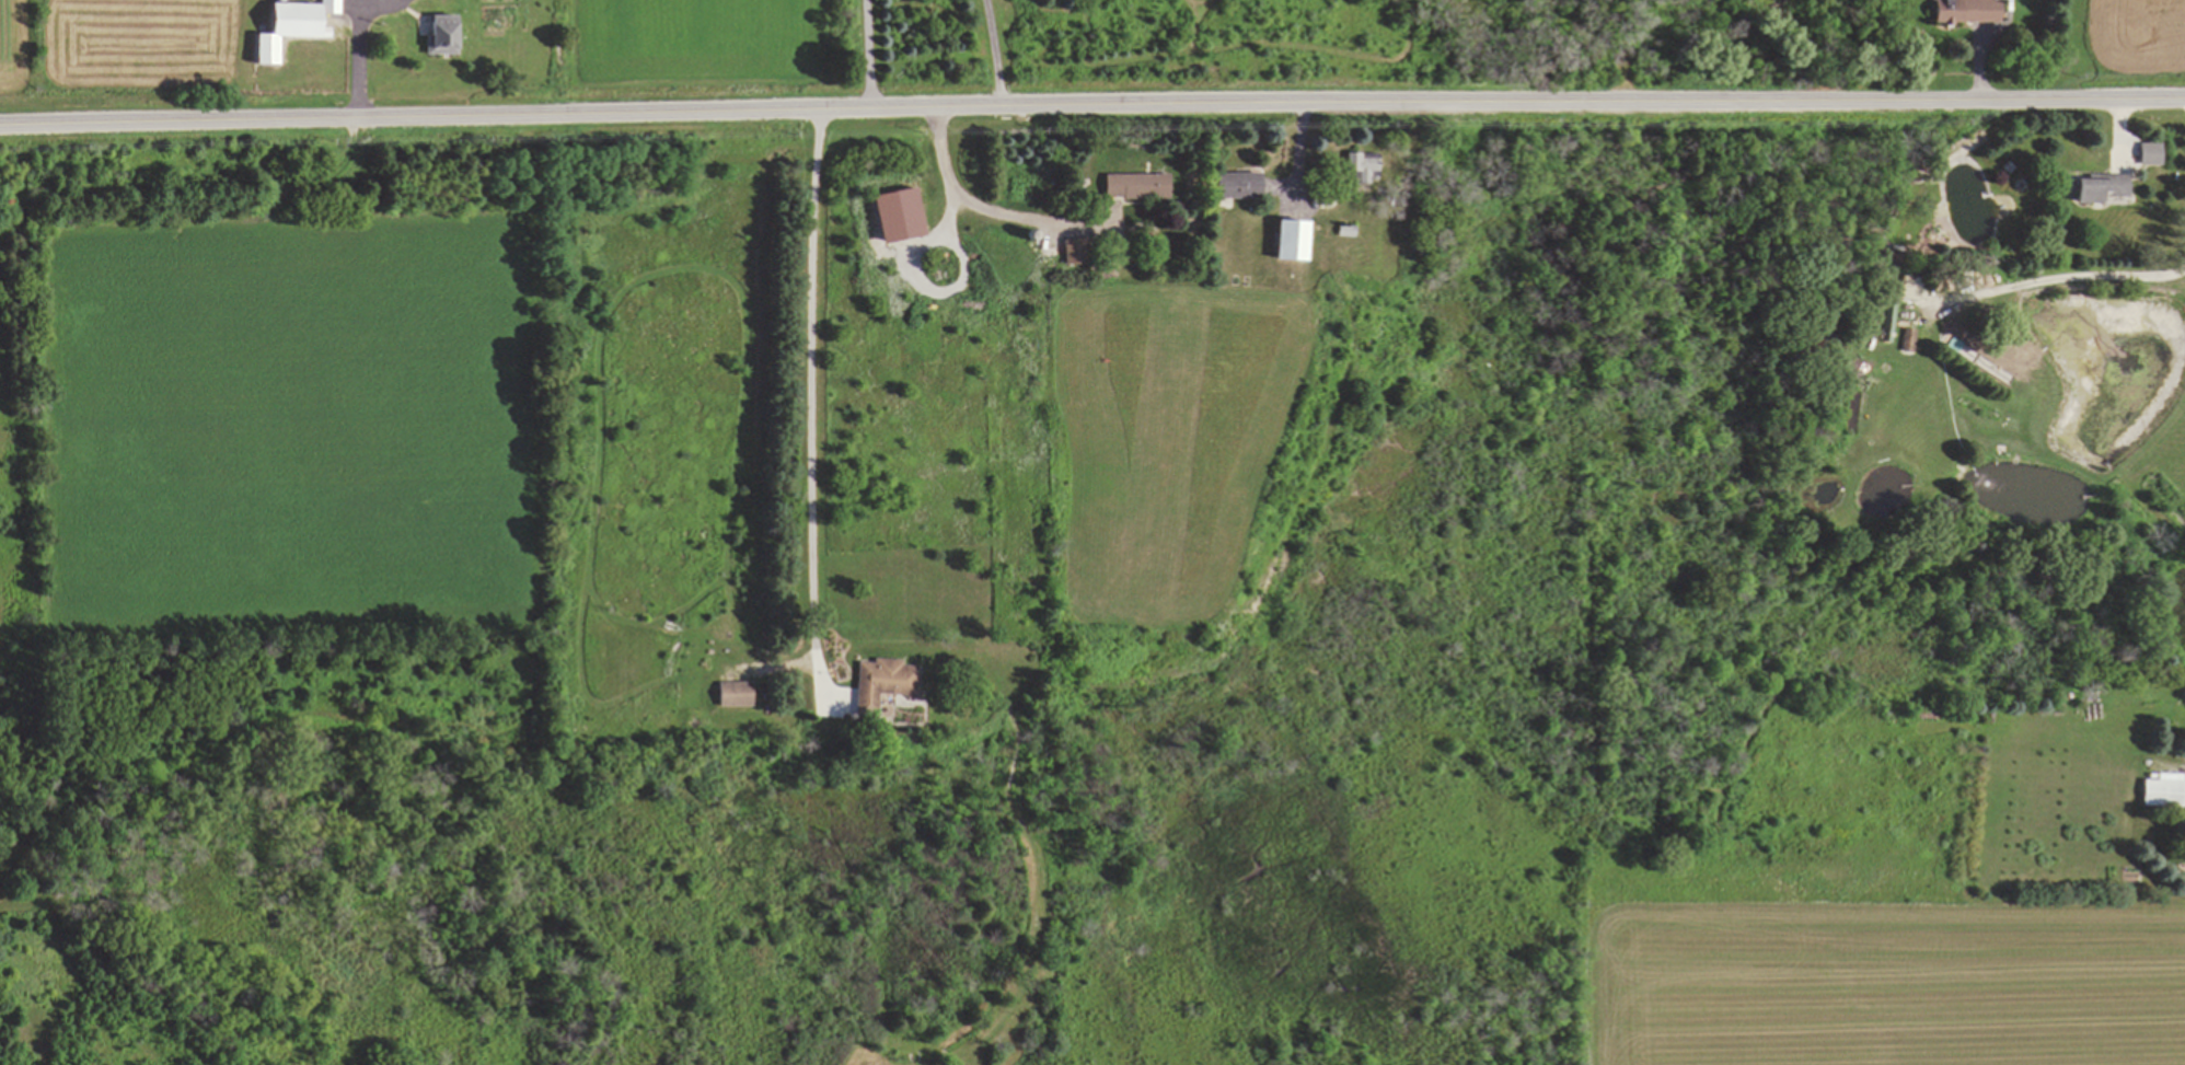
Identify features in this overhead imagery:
building: (1963, 11)
building: (286, 27)
building: (438, 31)
road: (993, 53)
road: (867, 54)
road: (1091, 106)
building: (2146, 152)
building: (1359, 166)
building: (1133, 185)
building: (1235, 185)
building: (2096, 187)
building: (1287, 240)
building: (1072, 250)
building: (1907, 287)
building: (1909, 339)
building: (882, 682)
building: (735, 694)
building: (2164, 790)

